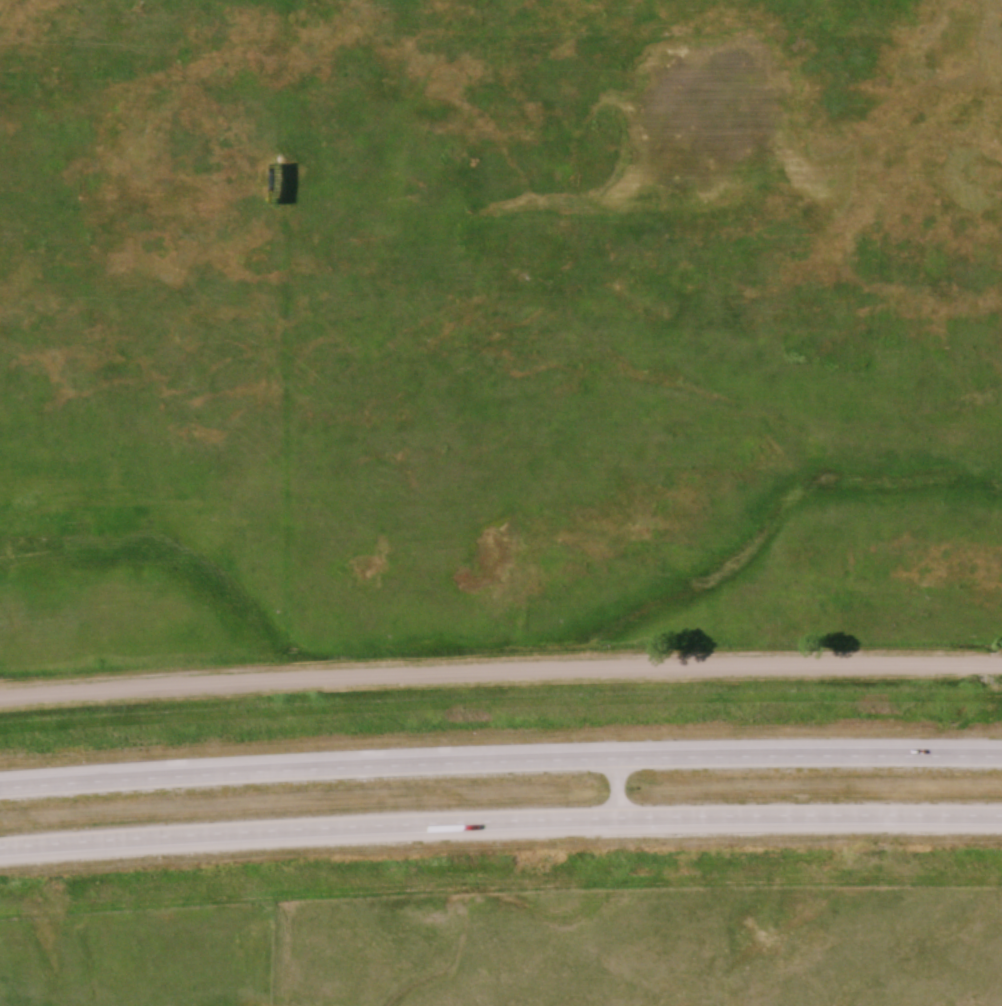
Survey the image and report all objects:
road: (500, 673)
road: (500, 760)
road: (500, 819)

